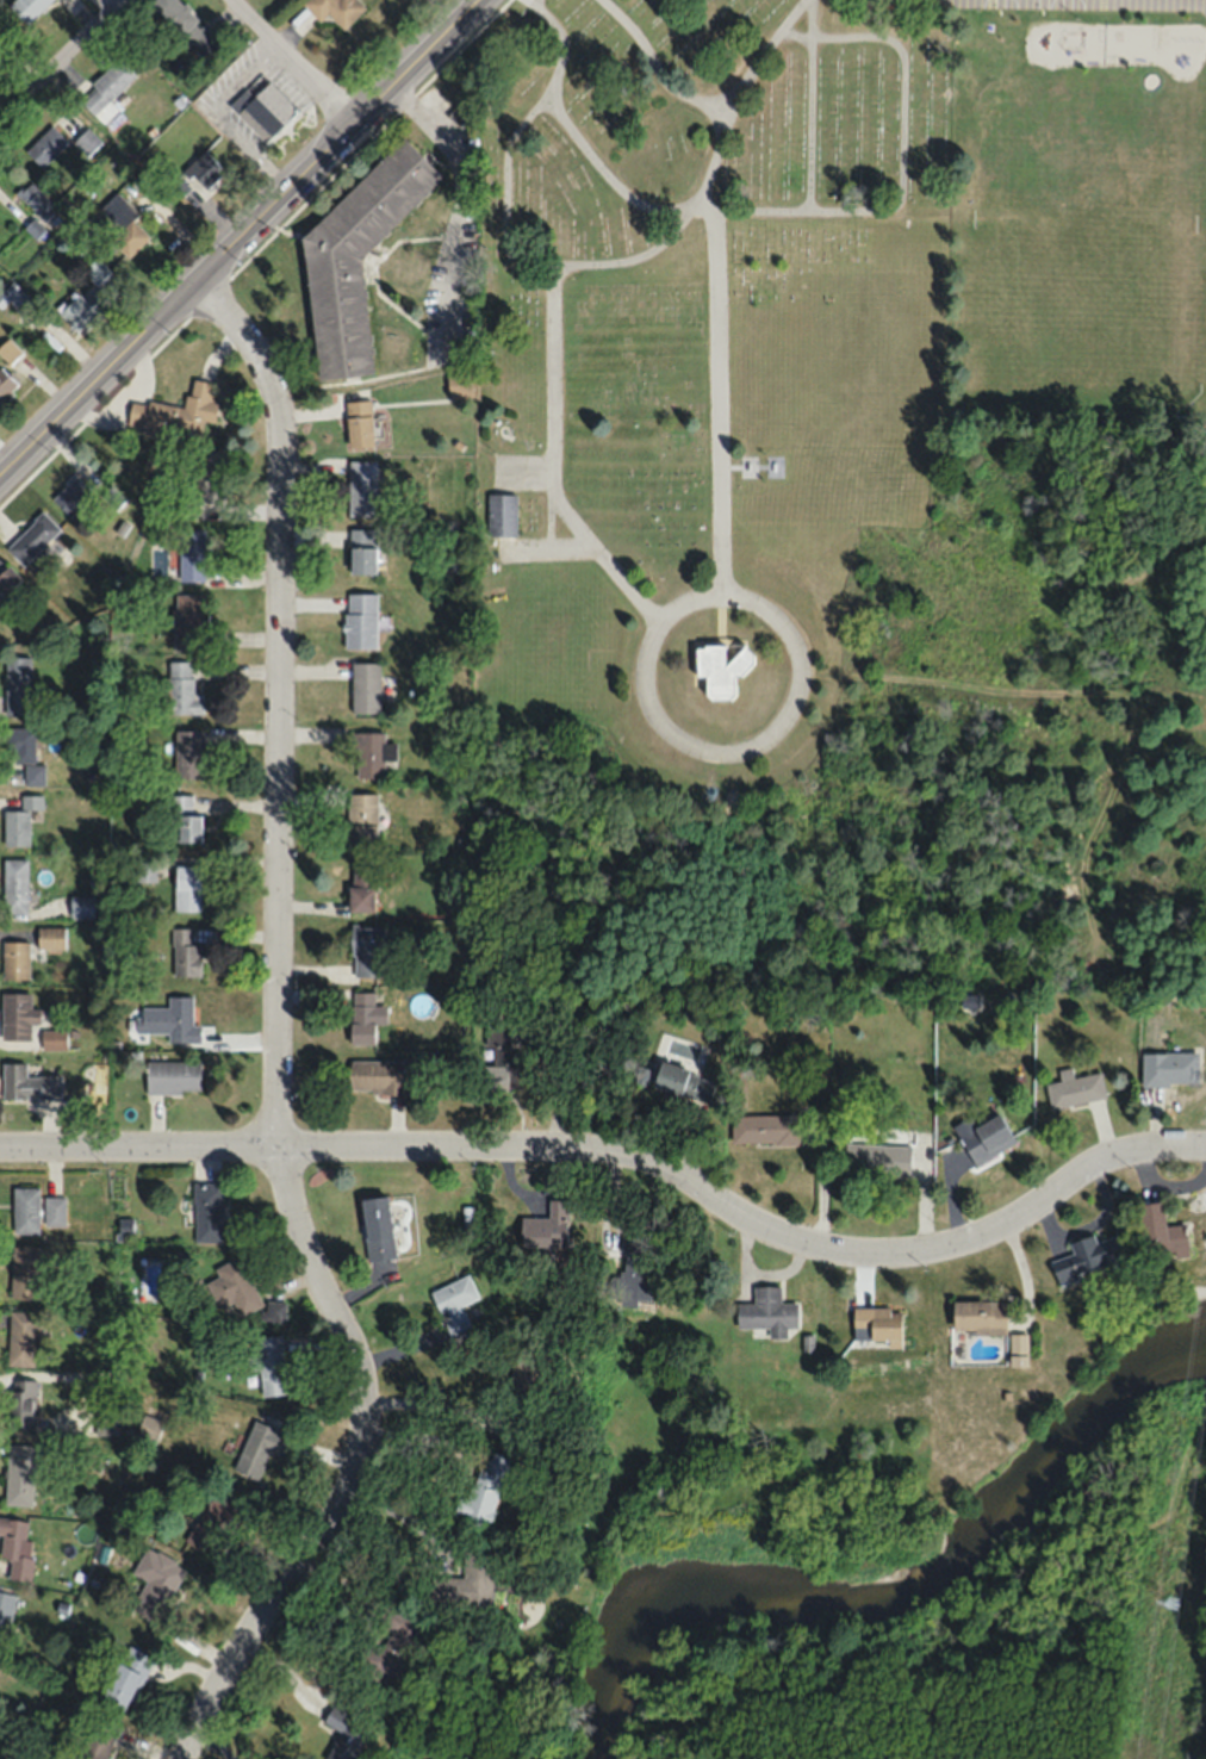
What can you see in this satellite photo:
building: (27, 7)
building: (335, 10)
building: (187, 24)
road: (66, 64)
road: (288, 64)
road: (661, 66)
building: (106, 87)
building: (263, 108)
building: (87, 142)
building: (46, 145)
building: (203, 173)
road: (505, 192)
building: (36, 200)
road: (655, 206)
building: (129, 237)
road: (241, 240)
building: (359, 240)
building: (95, 269)
building: (13, 296)
building: (81, 310)
building: (8, 350)
road: (554, 380)
building: (5, 384)
building: (459, 384)
road: (716, 392)
building: (176, 411)
building: (359, 424)
building: (205, 474)
building: (361, 487)
building: (72, 495)
building: (501, 514)
building: (33, 537)
building: (362, 551)
building: (191, 554)
park: (802, 558)
building: (7, 576)
building: (0, 599)
road: (675, 609)
building: (191, 620)
building: (360, 620)
building: (721, 649)
building: (18, 685)
building: (366, 686)
building: (182, 690)
building: (18, 745)
building: (189, 754)
building: (372, 754)
building: (35, 775)
building: (362, 819)
building: (20, 821)
building: (185, 821)
building: (14, 885)
building: (187, 888)
building: (362, 888)
building: (81, 906)
building: (50, 937)
building: (368, 951)
building: (184, 953)
building: (15, 959)
building: (18, 1015)
building: (362, 1018)
building: (170, 1020)
building: (54, 1038)
road: (278, 1040)
building: (496, 1058)
building: (1169, 1068)
building: (173, 1076)
building: (377, 1076)
building: (684, 1082)
building: (27, 1083)
building: (1075, 1088)
building: (765, 1130)
building: (987, 1138)
building: (877, 1158)
road: (626, 1161)
building: (25, 1208)
building: (55, 1210)
building: (207, 1211)
building: (546, 1225)
building: (378, 1227)
building: (1161, 1232)
building: (1086, 1257)
building: (26, 1270)
building: (638, 1276)
building: (242, 1291)
building: (450, 1307)
building: (769, 1311)
building: (980, 1314)
building: (877, 1322)
building: (23, 1337)
building: (1018, 1349)
building: (268, 1363)
building: (526, 1375)
building: (21, 1403)
building: (148, 1428)
building: (256, 1448)
building: (20, 1473)
building: (484, 1487)
building: (210, 1521)
building: (15, 1547)
building: (471, 1580)
building: (156, 1583)
river: (887, 1585)
park: (928, 1596)
power tower: (1167, 1597)
building: (6, 1615)
building: (392, 1647)
building: (125, 1678)
building: (343, 1734)
building: (98, 1738)

